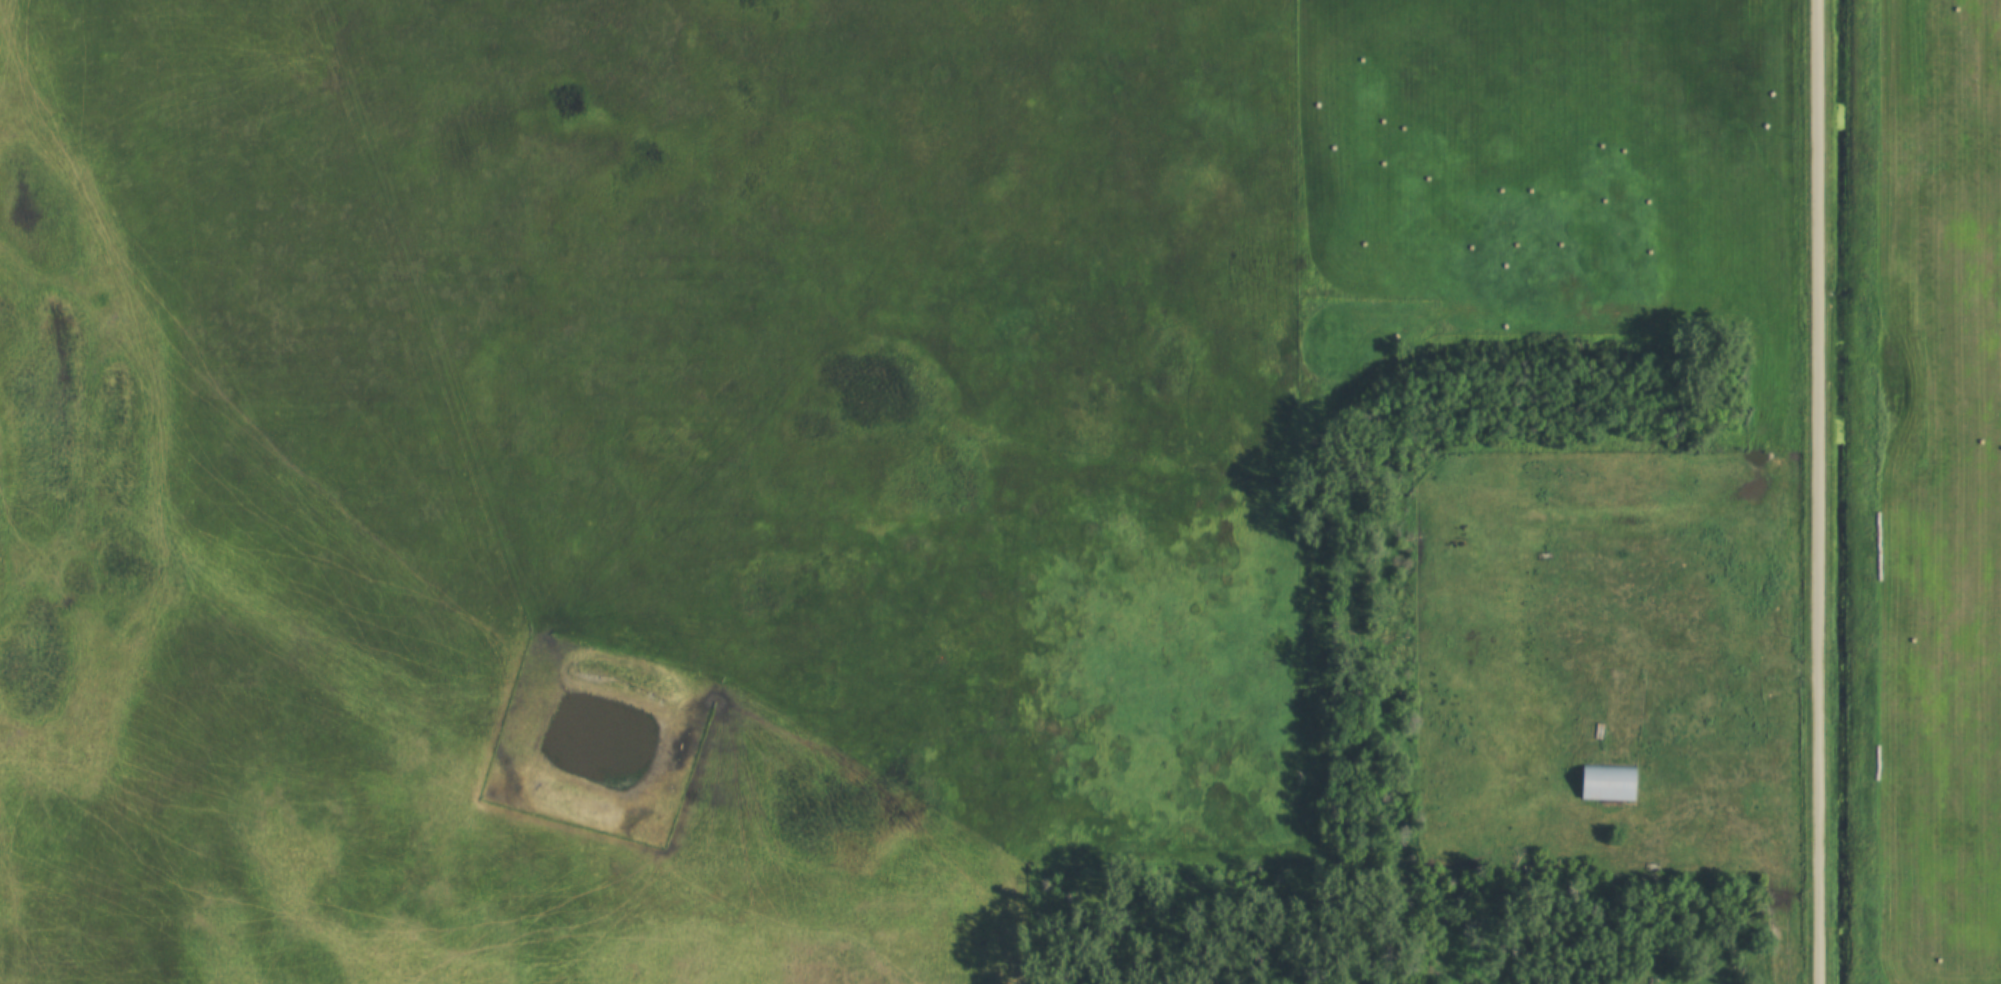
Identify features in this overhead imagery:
building: (1612, 460)
road: (1815, 492)
road: (1704, 654)
building: (1606, 783)

